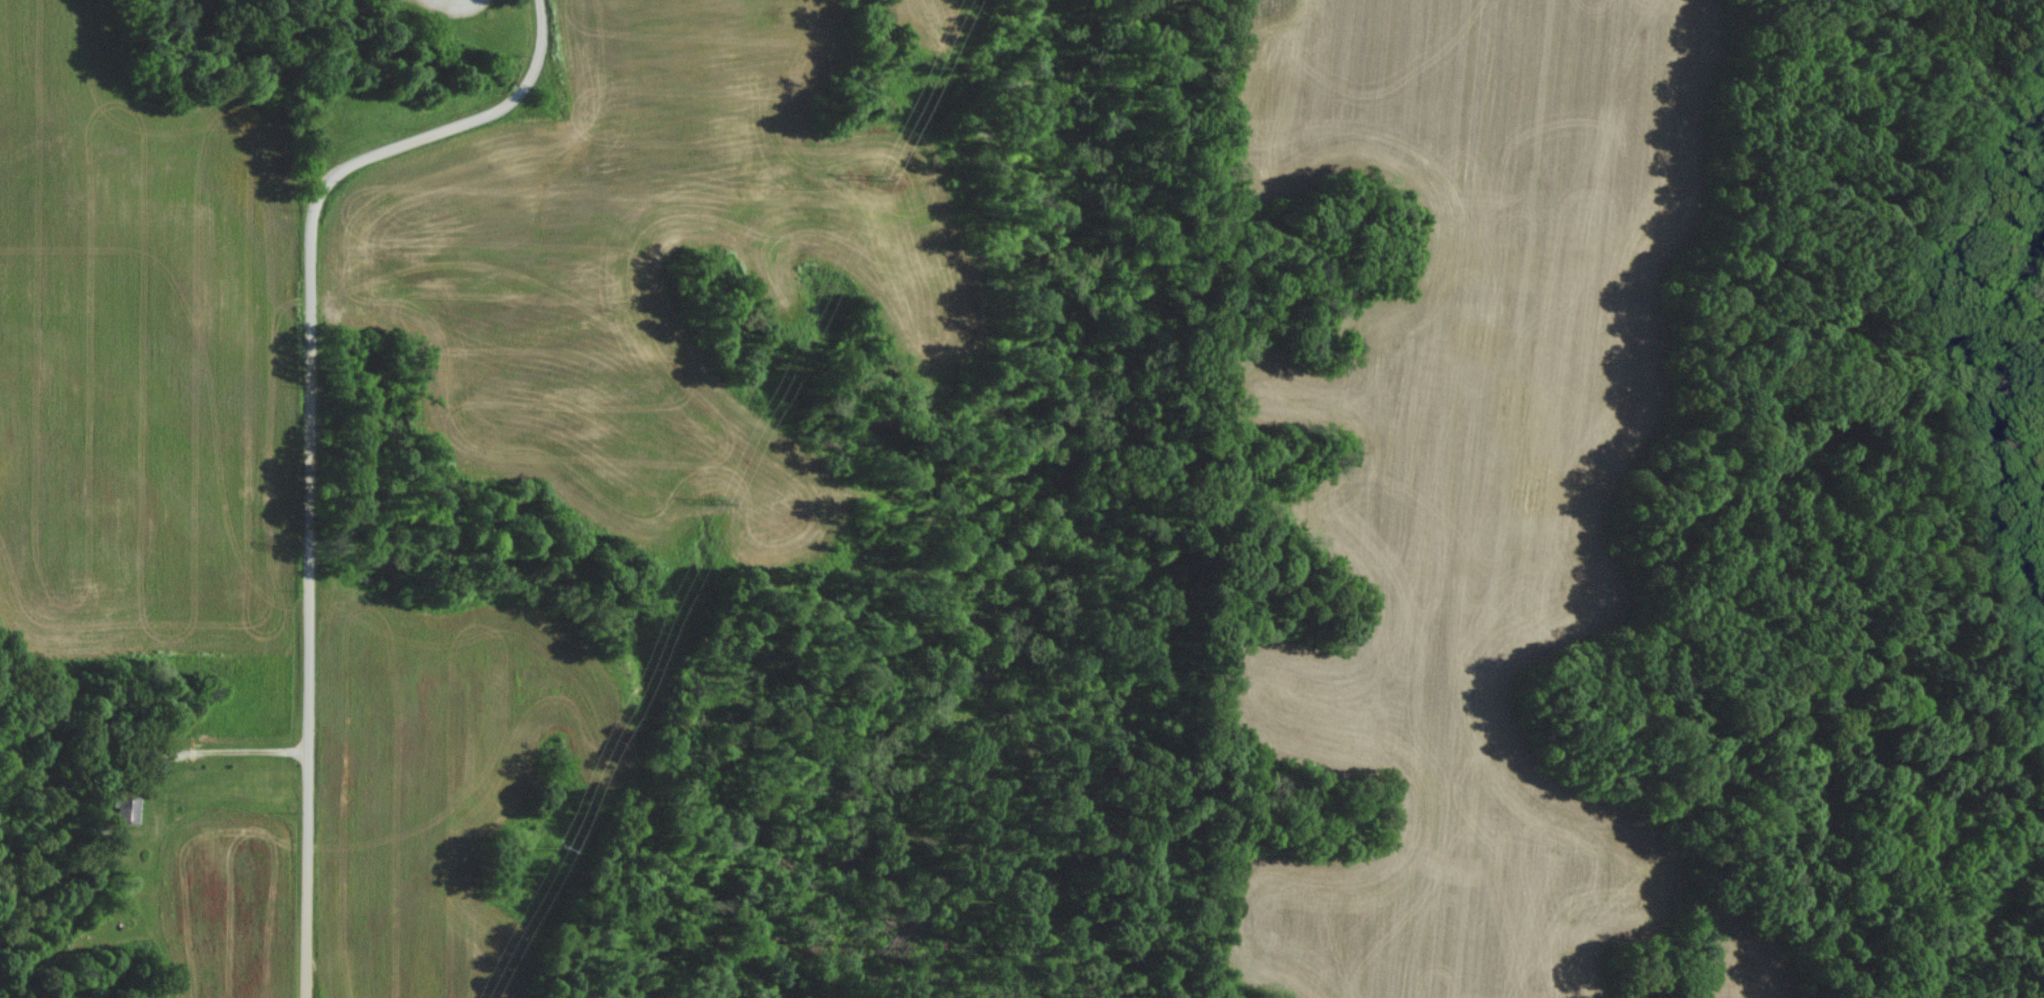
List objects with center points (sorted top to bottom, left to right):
road: (475, 1)
power tower: (881, 176)
road: (303, 426)
power tower: (727, 499)
road: (234, 750)
power tower: (562, 846)

